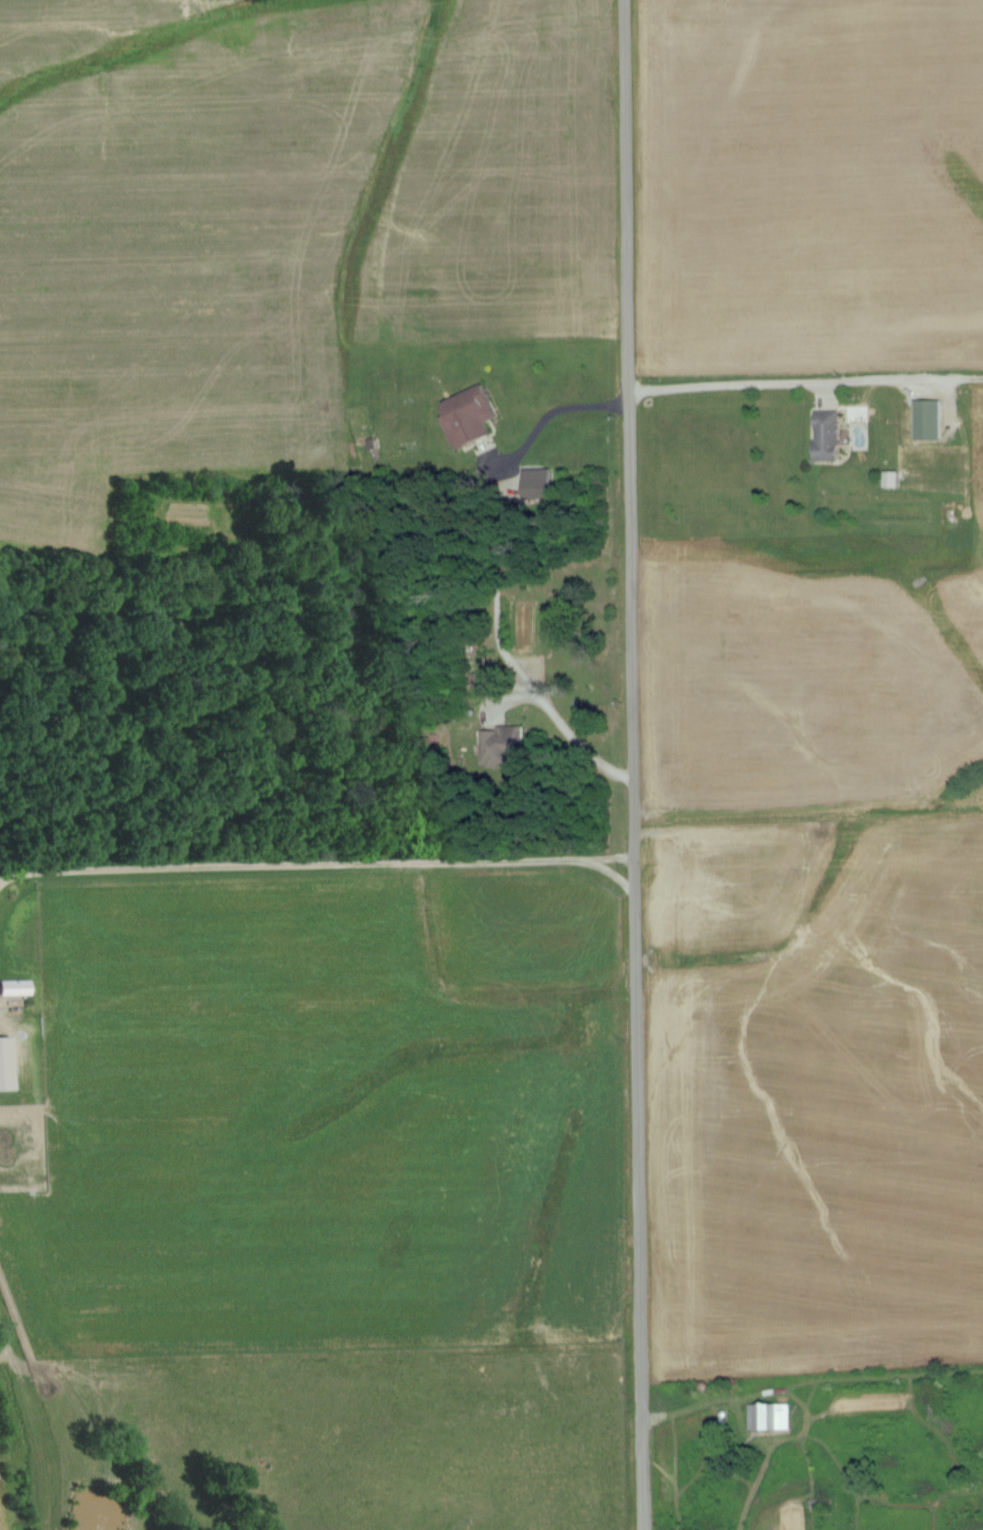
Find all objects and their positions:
road: (727, 390)
building: (465, 415)
building: (927, 419)
building: (825, 435)
building: (372, 448)
road: (562, 735)
building: (498, 740)
road: (629, 765)
road: (313, 866)
building: (13, 988)
building: (3, 1065)
building: (768, 1417)

